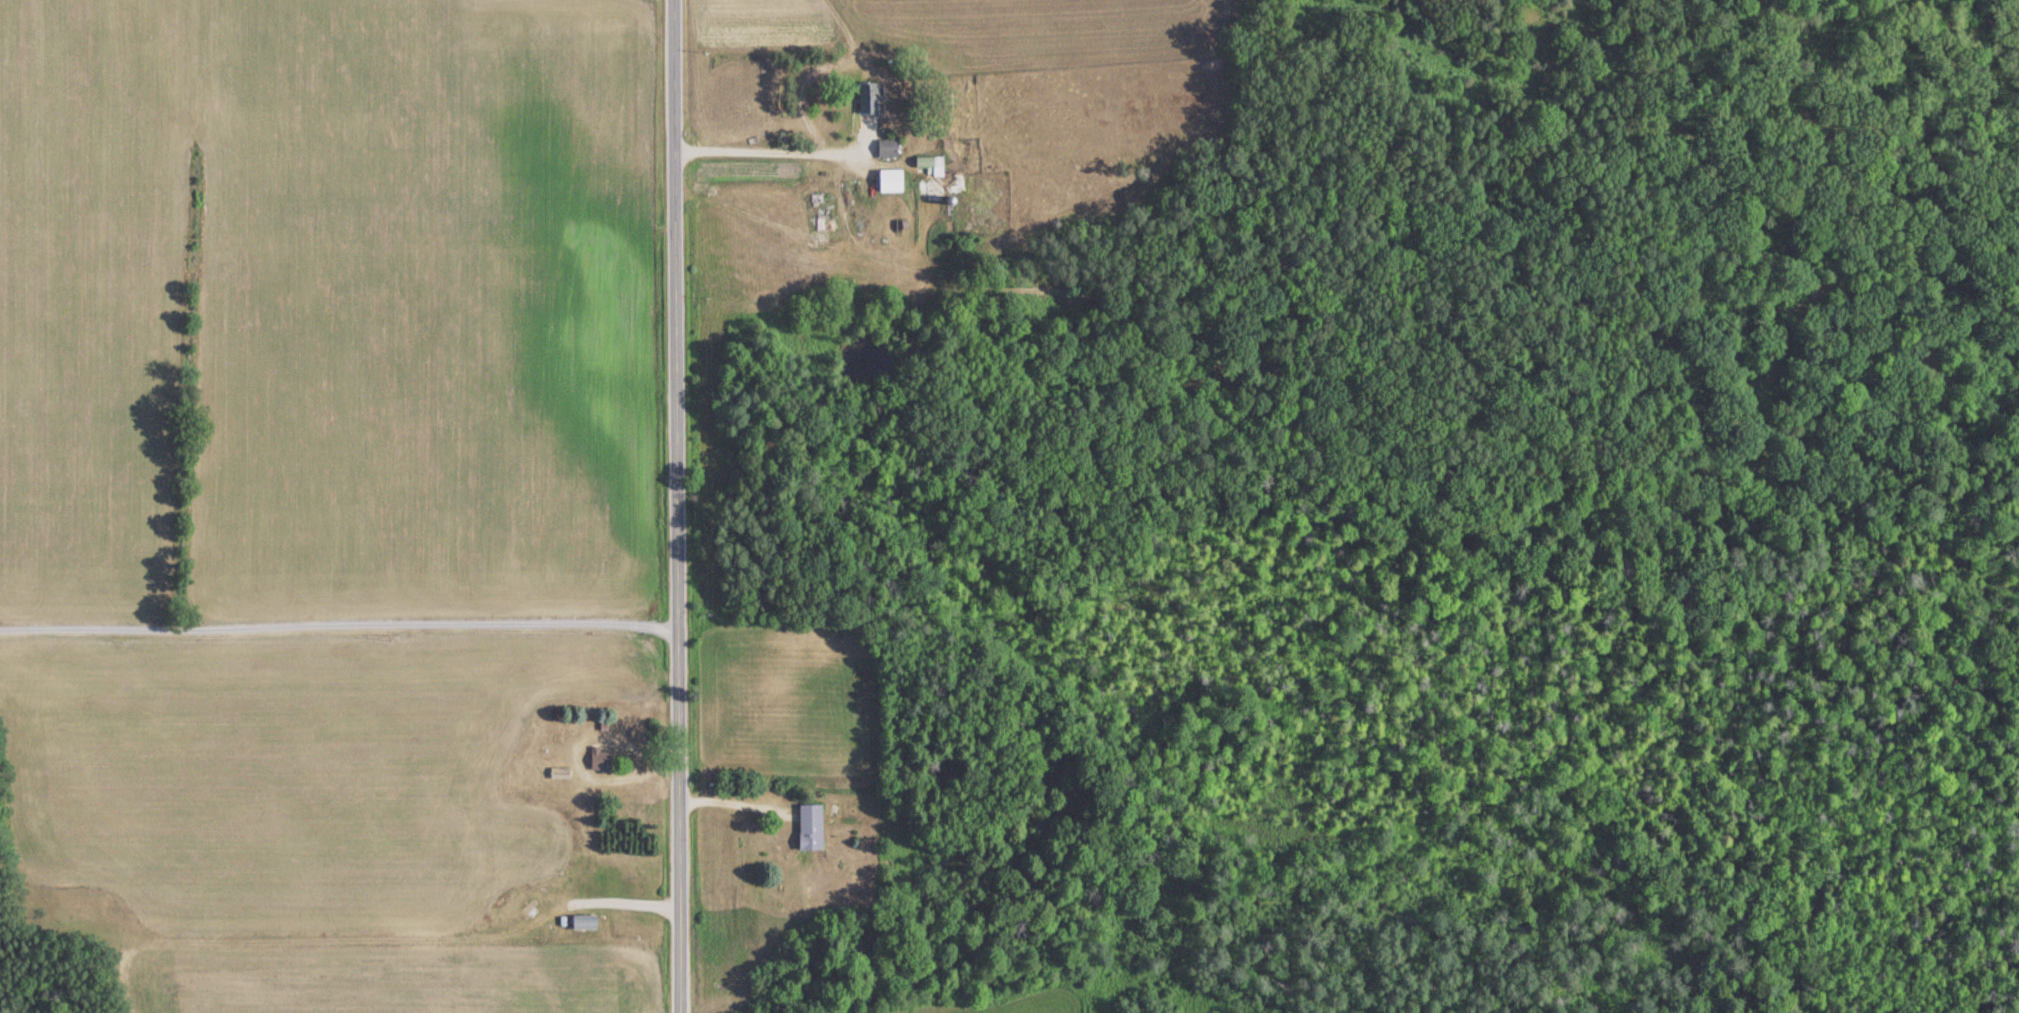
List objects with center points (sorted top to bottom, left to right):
building: (863, 99)
building: (884, 148)
building: (927, 164)
building: (887, 180)
road: (674, 506)
road: (338, 623)
building: (597, 759)
building: (556, 773)
building: (807, 827)
building: (581, 922)

